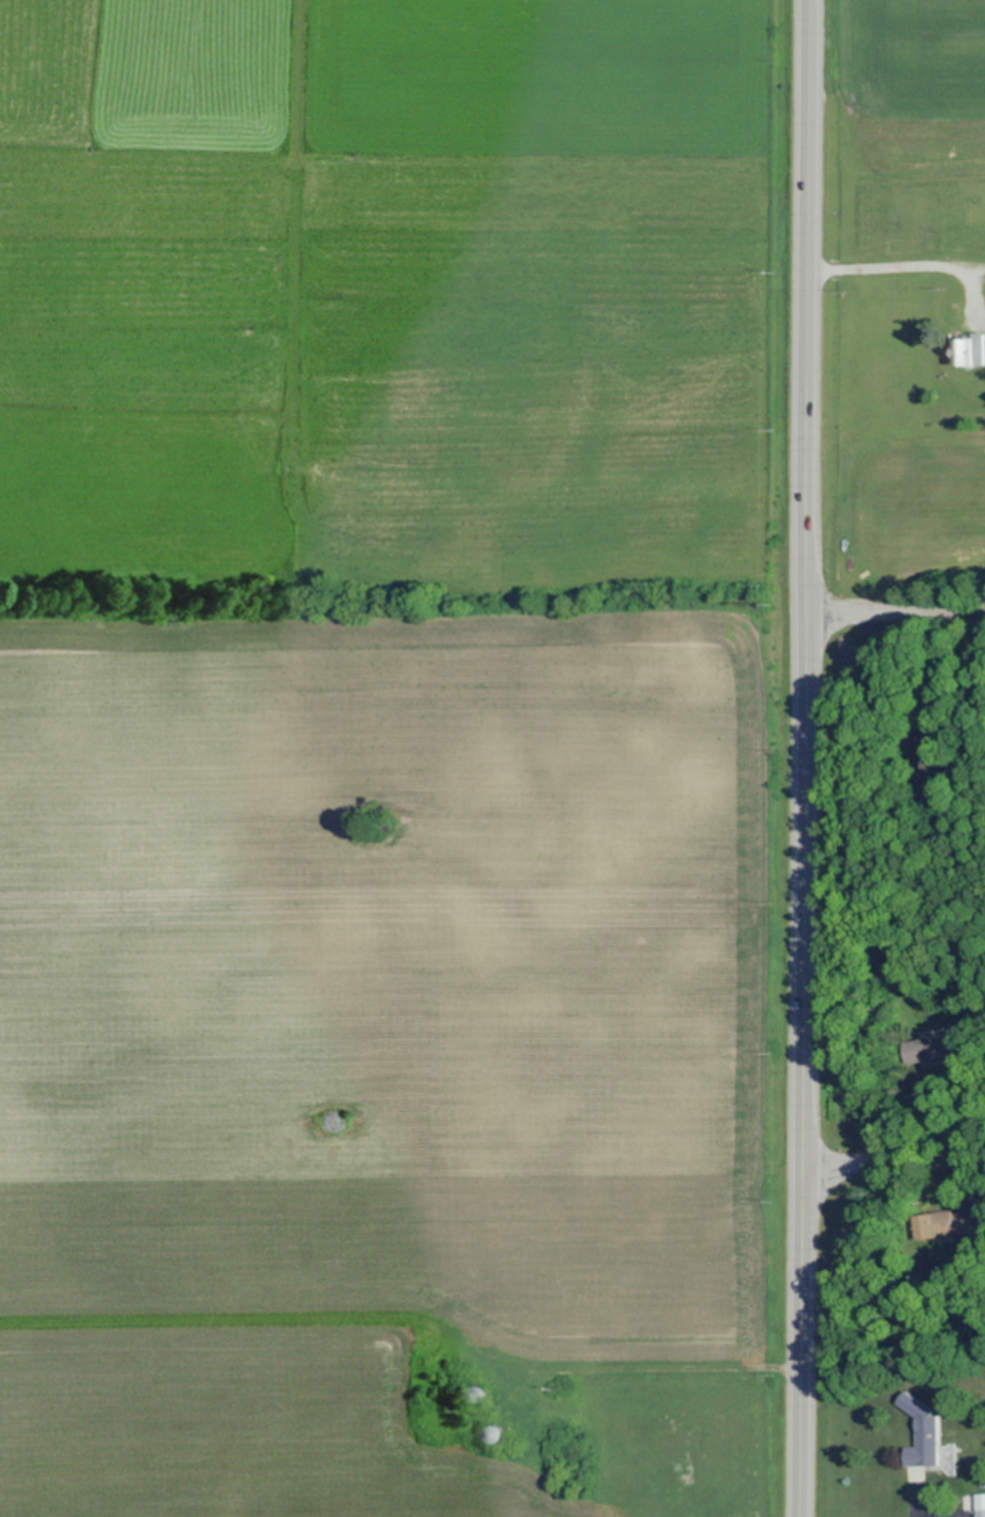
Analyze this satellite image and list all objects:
building: (972, 350)
road: (896, 612)
road: (806, 758)
building: (934, 1049)
road: (892, 1152)
building: (935, 1225)
building: (921, 1433)
building: (946, 1459)
building: (980, 1505)

